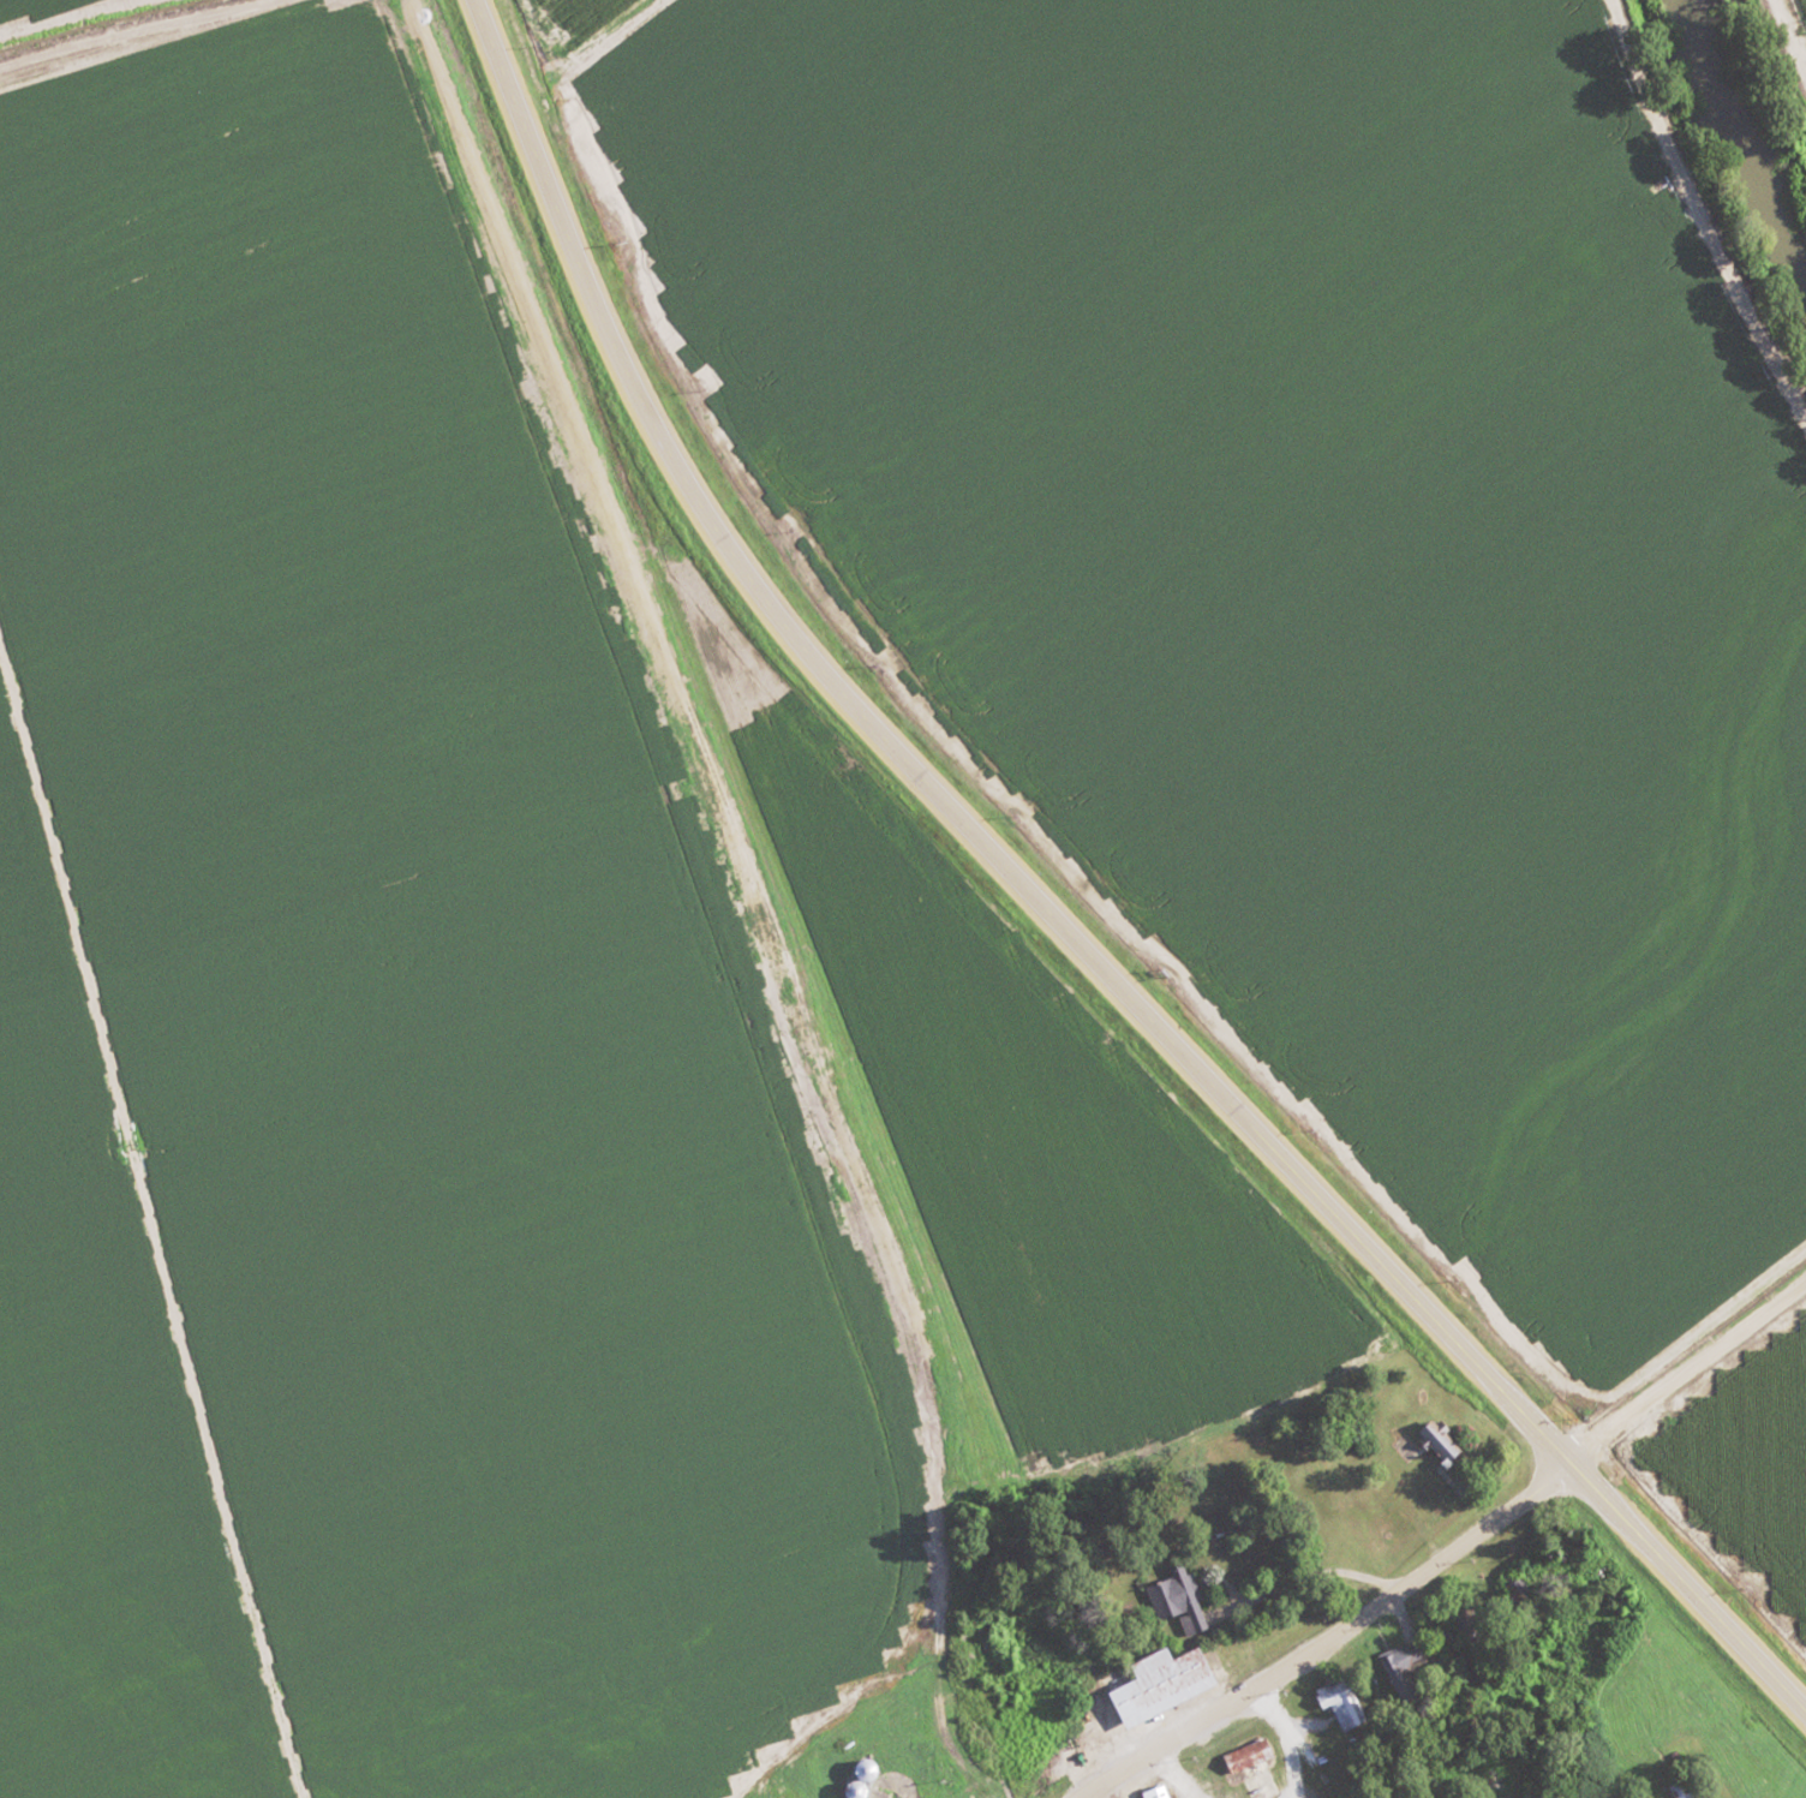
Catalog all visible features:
road: (1789, 37)
river: (1742, 107)
road: (1696, 223)
road: (1047, 919)
road: (153, 1230)
road: (1684, 1363)
building: (1434, 1439)
road: (1292, 1581)
building: (1173, 1600)
building: (1465, 1625)
road: (1324, 1636)
building: (1397, 1657)
building: (1154, 1685)
building: (1335, 1703)
road: (1281, 1738)
building: (1242, 1756)
building: (855, 1778)
building: (1673, 1791)
building: (1152, 1792)

